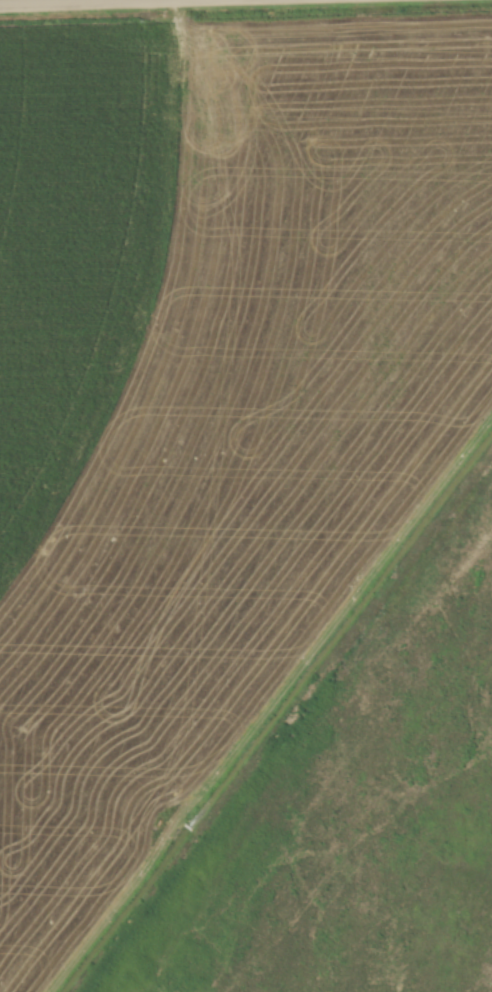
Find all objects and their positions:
road: (66, 2)

